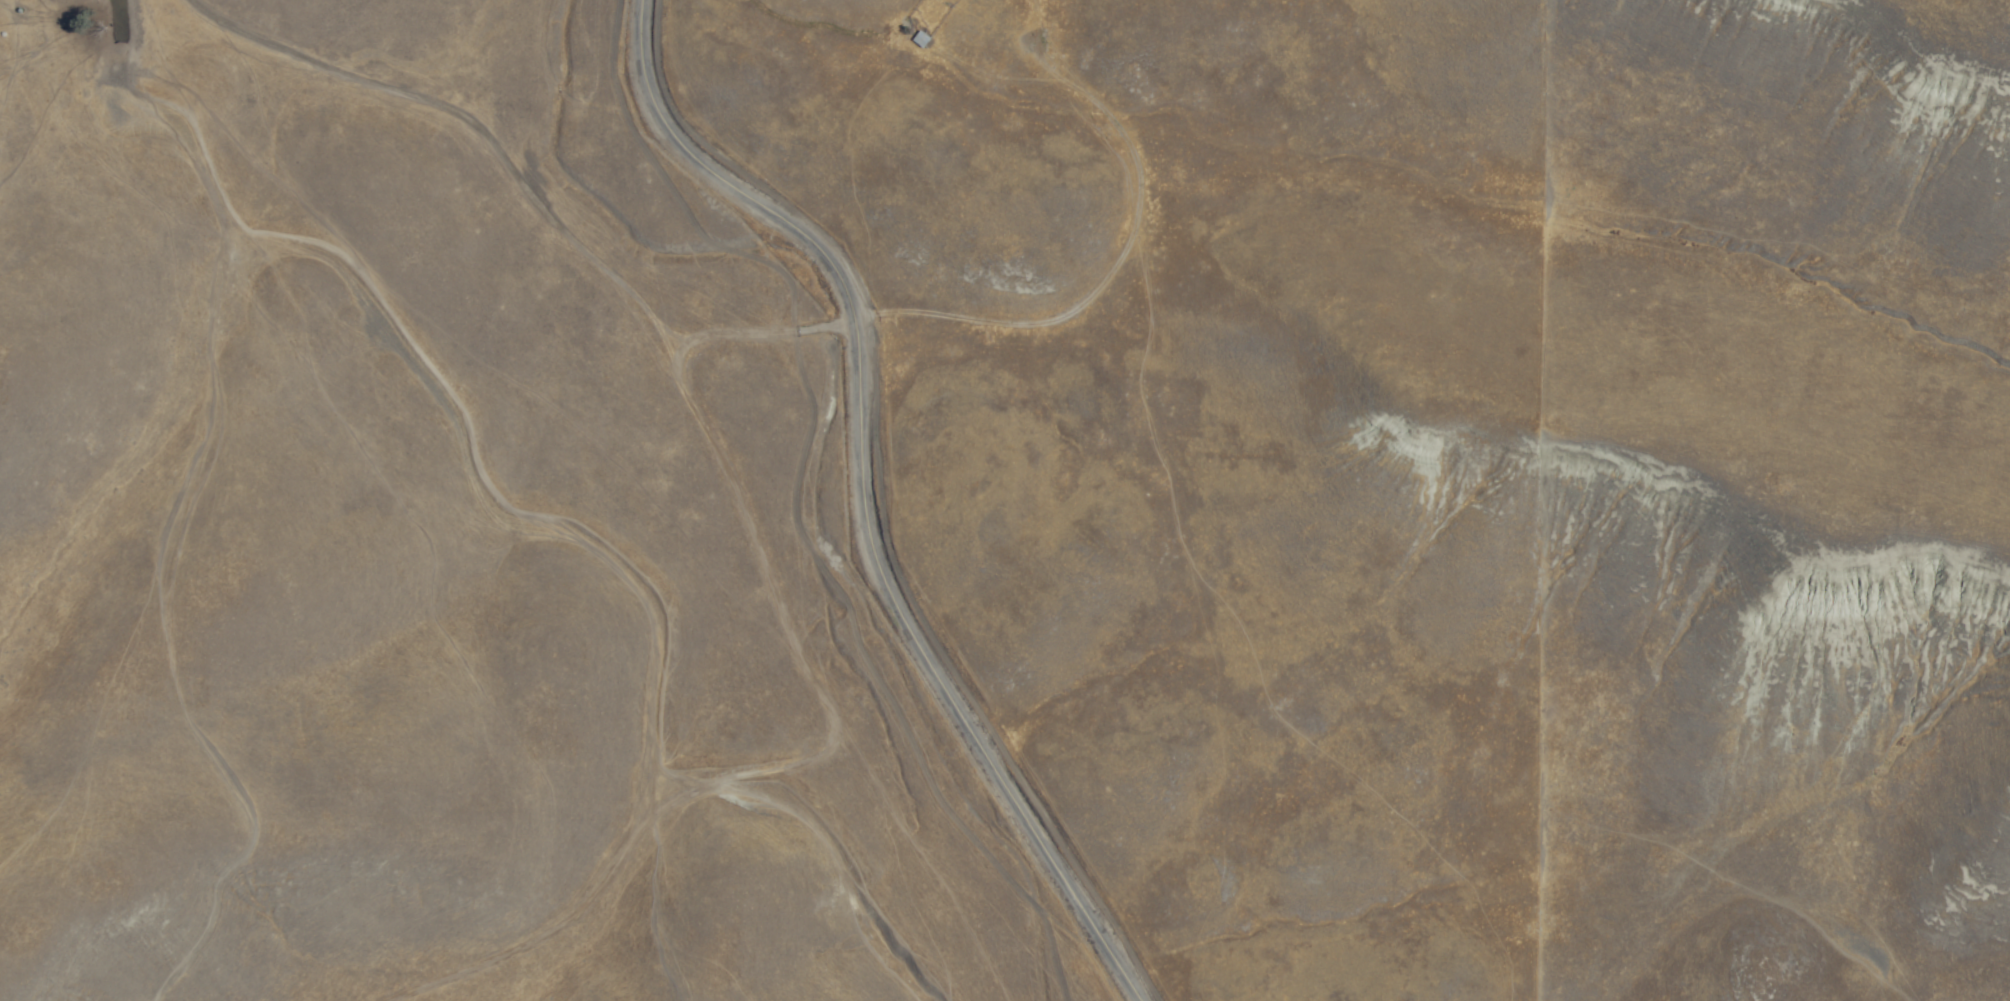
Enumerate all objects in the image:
road: (49, 17)
building: (922, 41)
road: (531, 191)
road: (860, 493)

